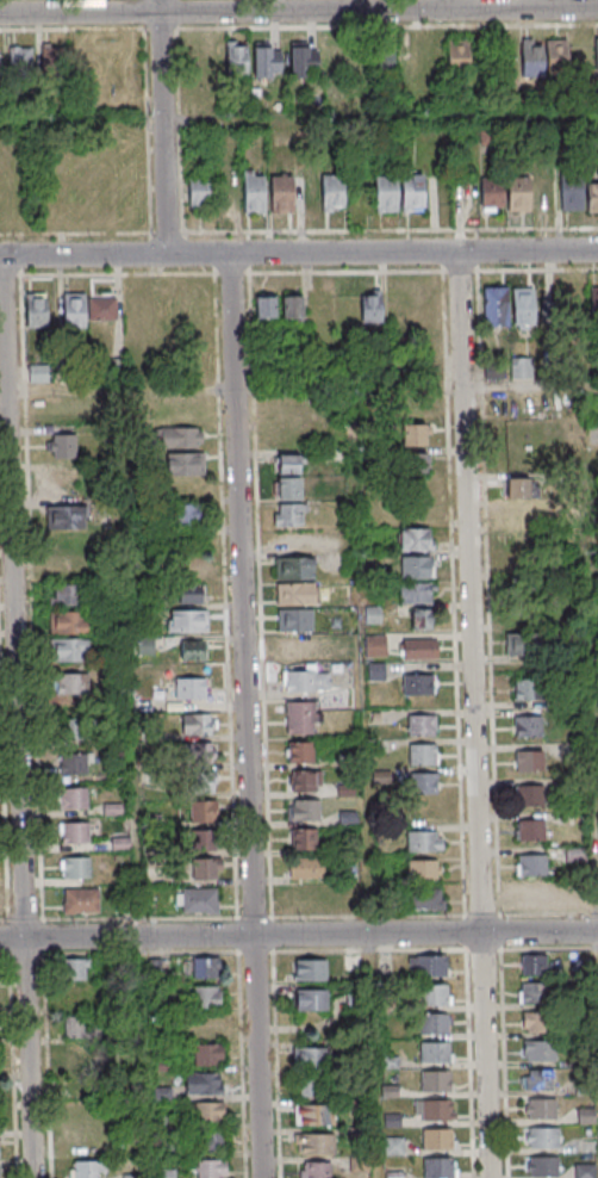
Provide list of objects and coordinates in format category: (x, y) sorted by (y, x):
road: (299, 11)
building: (596, 54)
building: (434, 55)
building: (559, 57)
building: (54, 58)
building: (236, 58)
building: (386, 58)
building: (460, 58)
building: (267, 60)
building: (304, 60)
building: (20, 61)
building: (534, 61)
road: (299, 120)
road: (167, 126)
building: (199, 193)
building: (336, 193)
building: (416, 193)
building: (571, 193)
building: (256, 194)
building: (285, 194)
building: (388, 194)
building: (492, 194)
building: (518, 194)
building: (592, 196)
road: (298, 231)
road: (298, 253)
building: (593, 302)
building: (496, 306)
building: (523, 306)
building: (268, 308)
building: (294, 308)
building: (87, 309)
building: (369, 309)
building: (35, 310)
building: (553, 314)
building: (521, 368)
building: (37, 373)
road: (303, 387)
building: (588, 430)
building: (417, 435)
building: (182, 438)
building: (63, 445)
building: (417, 463)
building: (286, 464)
building: (185, 465)
building: (63, 482)
building: (291, 488)
building: (517, 488)
building: (522, 514)
building: (293, 515)
building: (64, 516)
building: (186, 516)
building: (417, 540)
building: (418, 568)
building: (297, 569)
building: (417, 593)
building: (189, 594)
building: (298, 595)
building: (70, 596)
building: (522, 614)
building: (421, 619)
building: (187, 620)
building: (298, 620)
building: (70, 622)
road: (592, 624)
building: (517, 643)
building: (293, 645)
building: (374, 645)
building: (418, 649)
building: (71, 650)
building: (192, 650)
road: (135, 663)
building: (303, 682)
building: (74, 683)
building: (419, 686)
building: (191, 688)
building: (530, 690)
road: (476, 714)
road: (250, 715)
road: (20, 717)
building: (304, 719)
building: (195, 725)
building: (424, 726)
building: (531, 727)
building: (74, 730)
building: (197, 752)
building: (304, 752)
building: (424, 756)
building: (532, 762)
building: (76, 765)
building: (200, 782)
building: (307, 782)
building: (426, 785)
building: (532, 796)
building: (77, 799)
building: (113, 808)
building: (201, 811)
building: (309, 811)
building: (534, 832)
building: (79, 833)
building: (205, 839)
building: (305, 841)
building: (426, 843)
building: (575, 854)
building: (535, 866)
building: (80, 868)
building: (205, 869)
building: (309, 869)
building: (423, 869)
building: (538, 893)
building: (307, 898)
building: (351, 899)
building: (577, 899)
building: (200, 900)
building: (85, 901)
building: (426, 901)
road: (299, 917)
road: (299, 935)
building: (354, 961)
building: (536, 966)
building: (435, 967)
building: (207, 968)
building: (75, 971)
building: (312, 972)
building: (537, 994)
building: (435, 996)
building: (205, 998)
building: (313, 1002)
building: (543, 1023)
building: (436, 1024)
building: (74, 1027)
building: (544, 1053)
building: (437, 1054)
building: (211, 1055)
building: (313, 1059)
building: (541, 1081)
building: (438, 1083)
building: (205, 1085)
building: (313, 1087)
building: (544, 1110)
building: (438, 1111)
building: (207, 1114)
building: (316, 1117)
building: (438, 1140)
building: (548, 1140)
building: (212, 1142)
building: (79, 1143)
building: (320, 1146)
building: (547, 1167)
building: (92, 1168)
building: (440, 1168)
building: (216, 1170)
building: (319, 1171)
building: (585, 1171)
building: (164, 1173)
building: (131, 1176)

